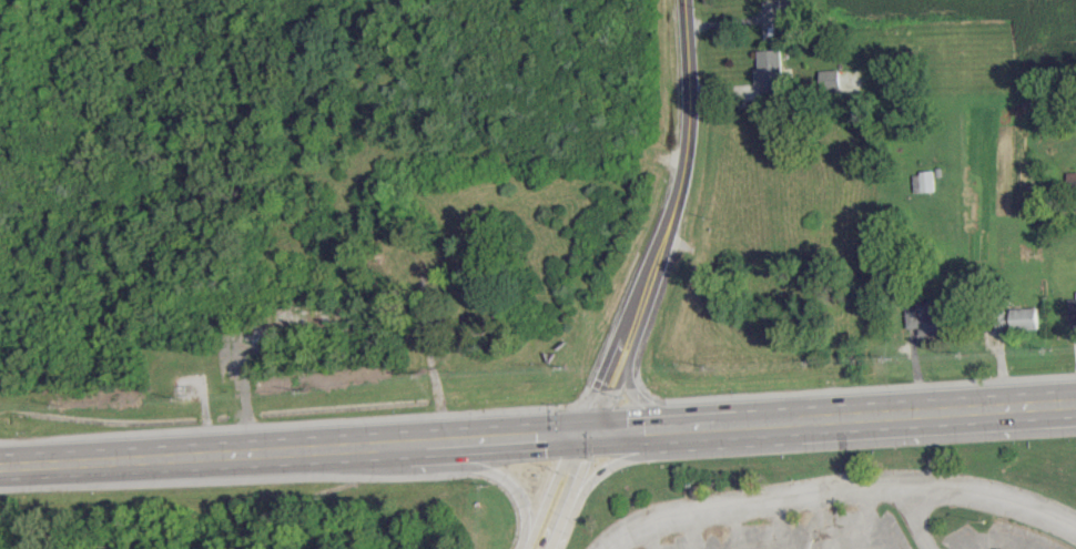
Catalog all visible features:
crop: (1048, 42)
building: (770, 70)
building: (830, 78)
road: (689, 143)
building: (922, 181)
building: (1072, 309)
building: (1023, 317)
building: (926, 319)
road: (625, 357)
traffic signals: (596, 378)
road: (647, 404)
road: (580, 413)
road: (884, 413)
traffic signals: (643, 428)
road: (556, 433)
traffic signals: (534, 435)
road: (210, 454)
road: (622, 459)
traffic signals: (583, 461)
road: (491, 472)
road: (838, 488)
road: (570, 489)
road: (873, 518)
road: (912, 518)
road: (822, 520)
road: (782, 523)
road: (737, 527)
road: (691, 531)
road: (648, 536)
road: (991, 539)
road: (607, 547)

